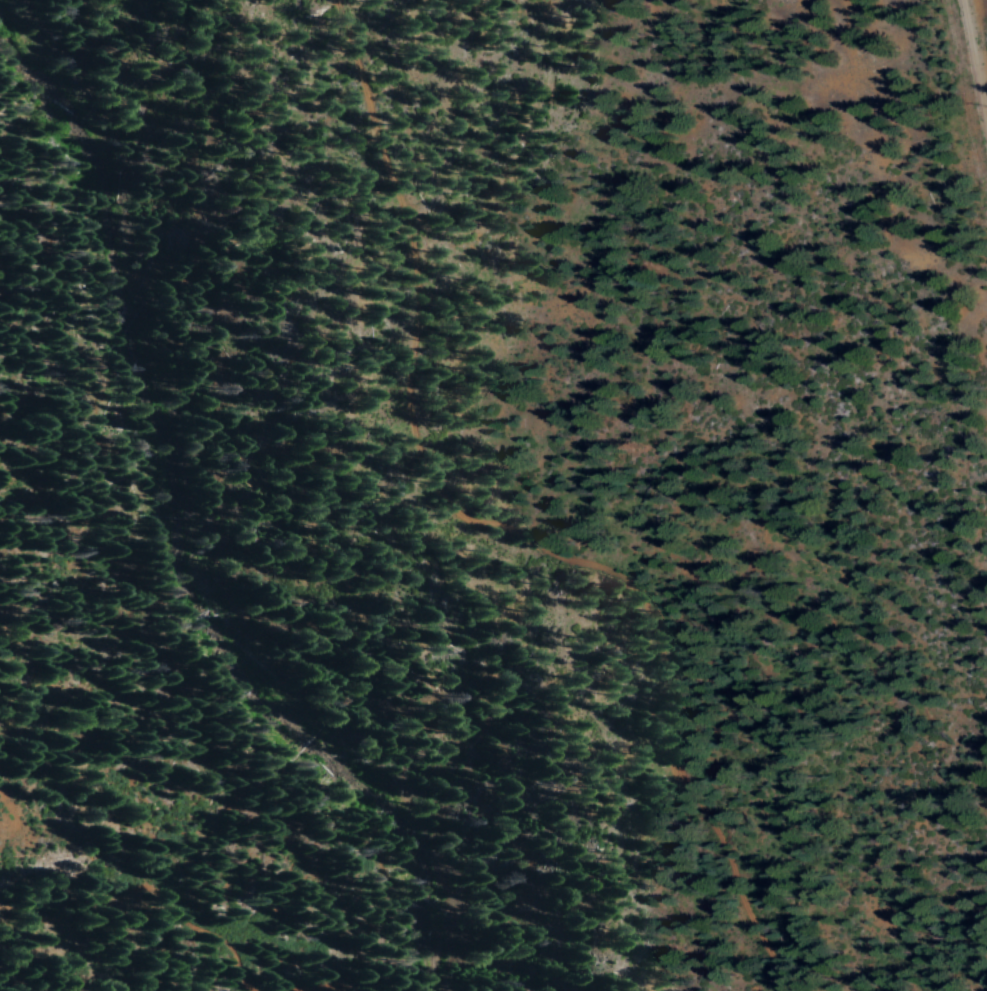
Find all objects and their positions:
railway: (974, 58)
road: (744, 859)

